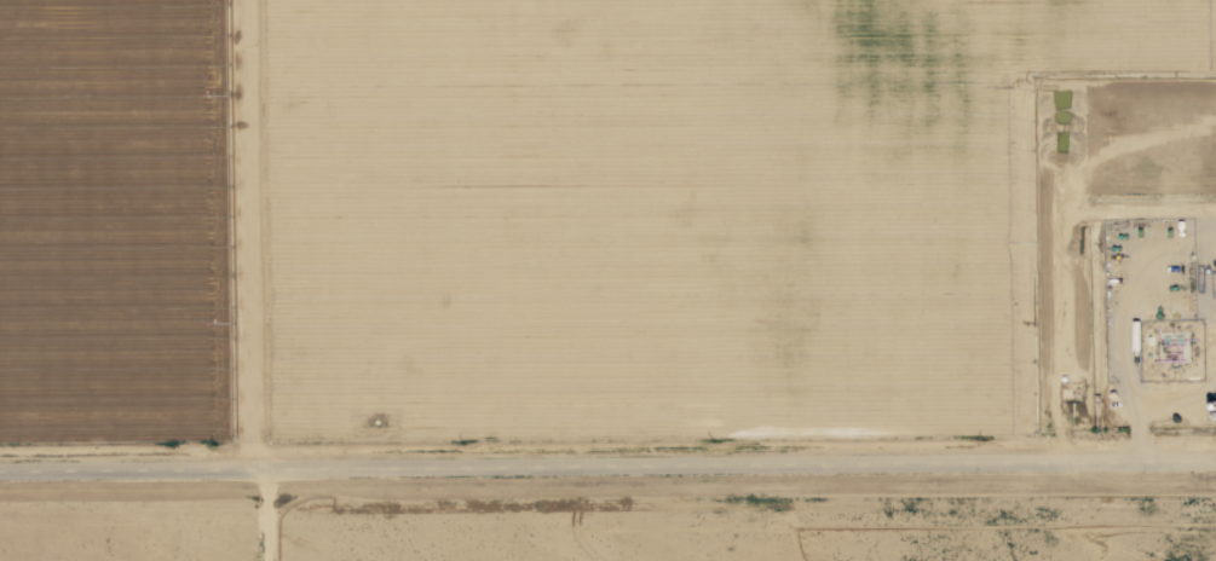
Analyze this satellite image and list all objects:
crop: (548, 280)
road: (607, 468)
road: (261, 516)

